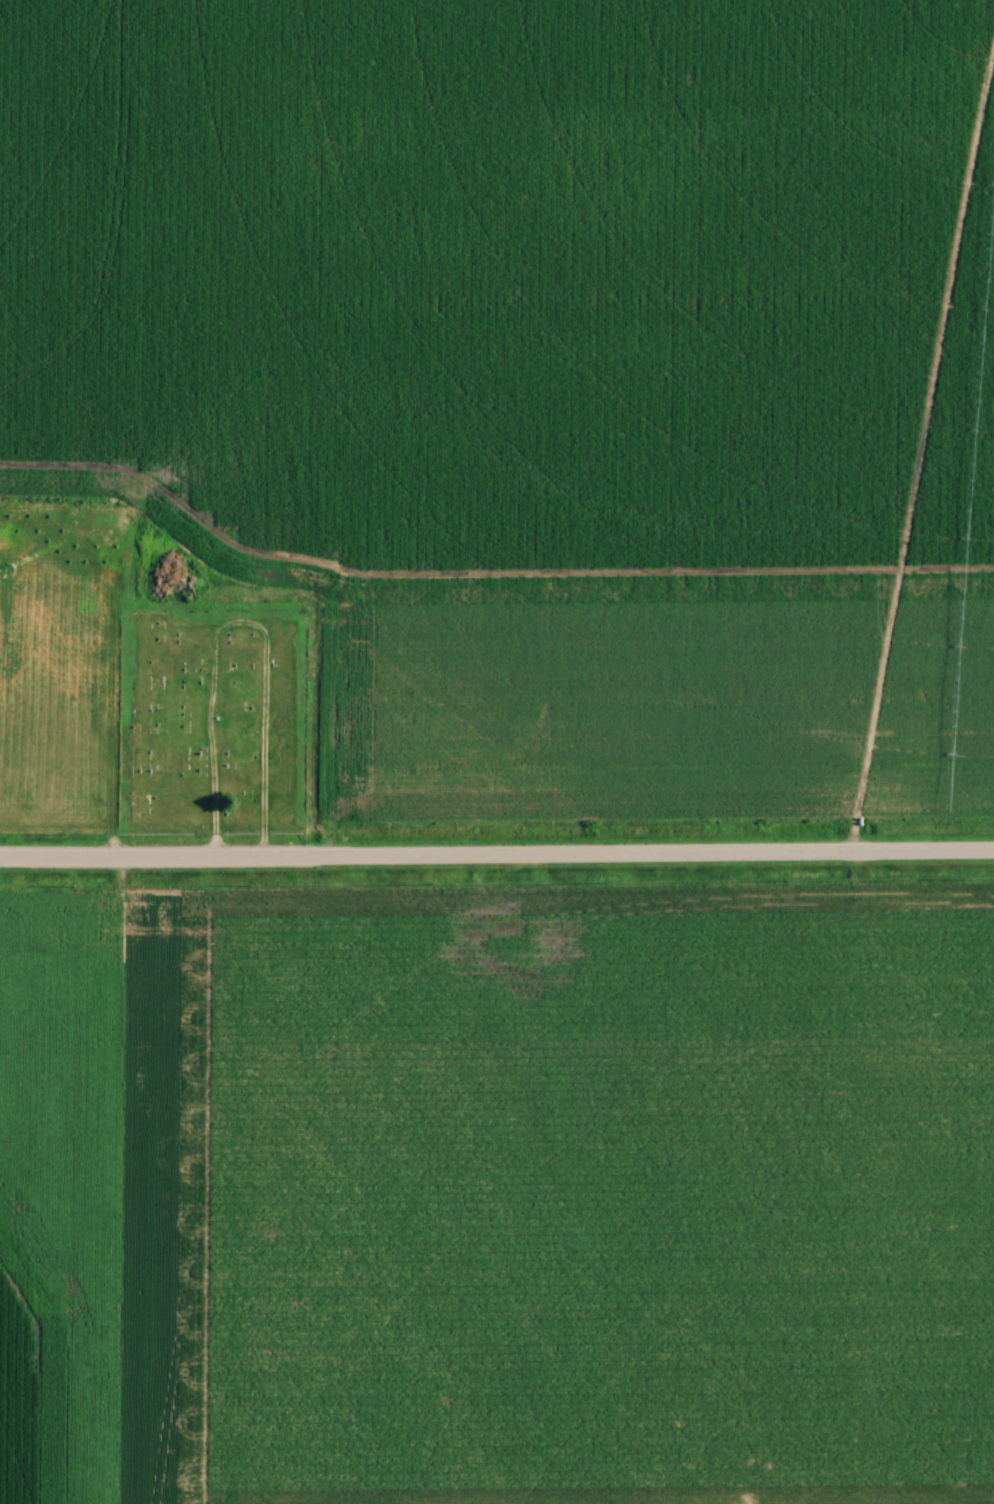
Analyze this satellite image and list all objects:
crop: (541, 368)
road: (497, 855)
crop: (59, 1193)

